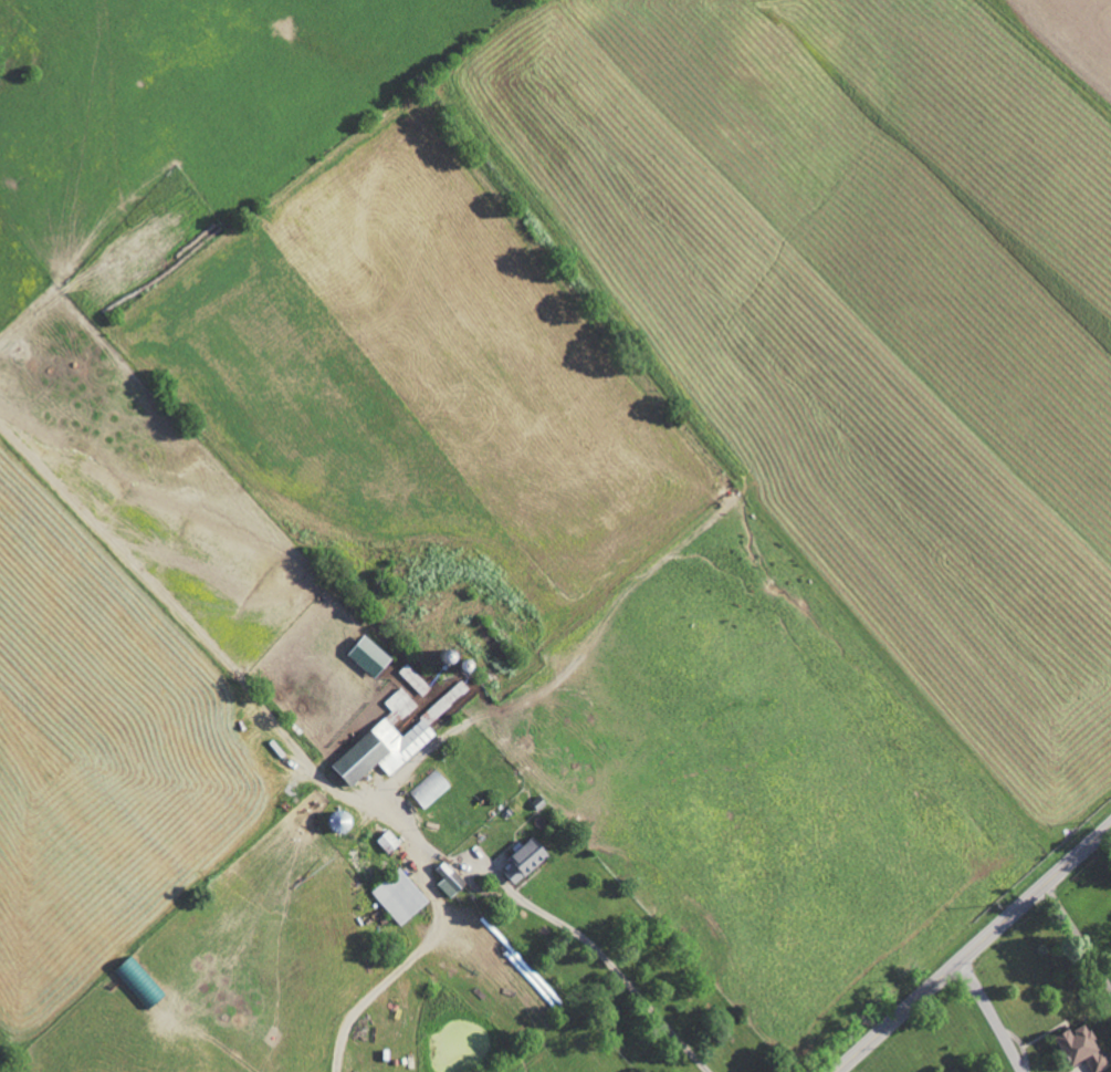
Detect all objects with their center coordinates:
building: (368, 655)
building: (463, 663)
building: (415, 679)
building: (396, 735)
building: (430, 789)
building: (388, 840)
building: (524, 858)
road: (475, 865)
building: (449, 878)
building: (400, 895)
road: (973, 947)
building: (139, 981)
road: (995, 1013)
building: (1082, 1048)

